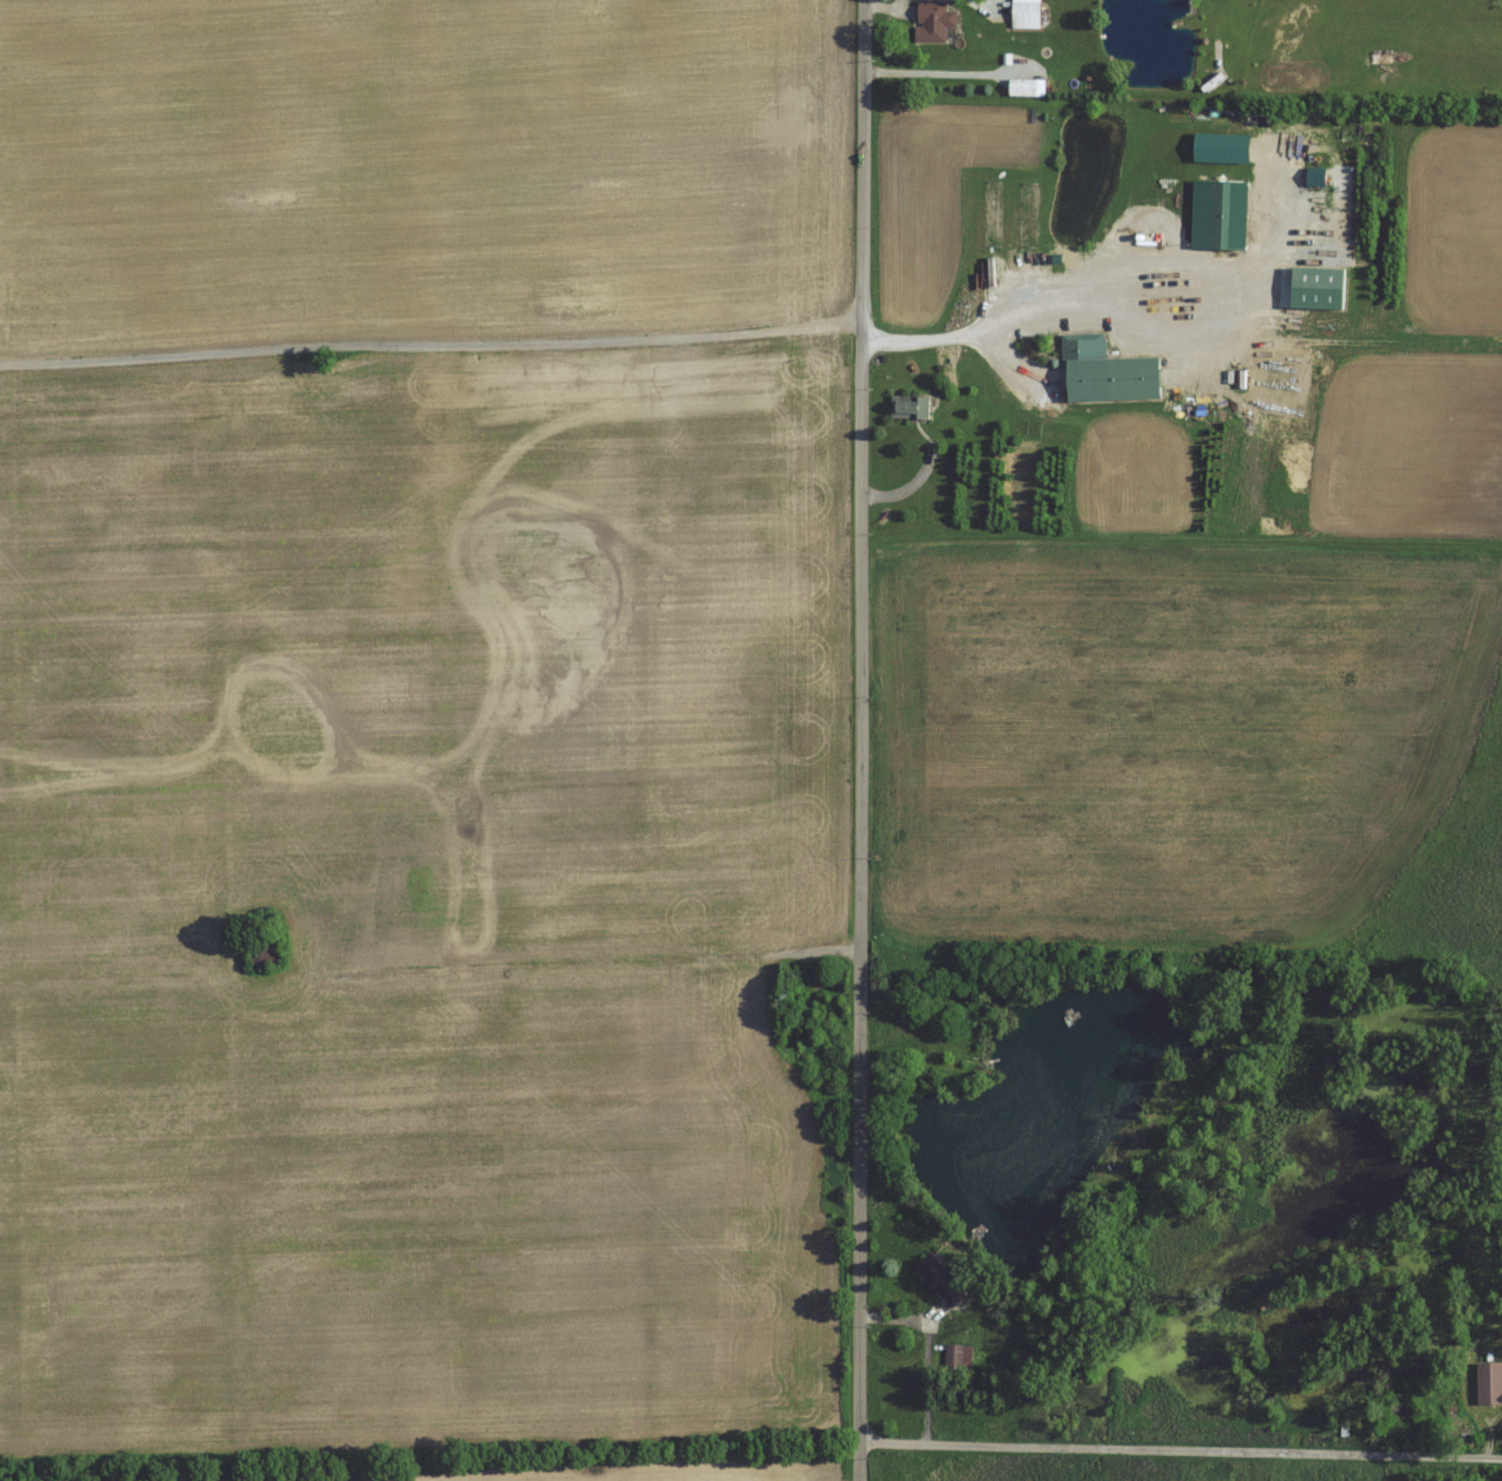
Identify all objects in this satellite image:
building: (1026, 13)
building: (934, 20)
road: (928, 72)
building: (1027, 87)
building: (991, 213)
building: (1027, 214)
building: (1220, 214)
road: (1066, 291)
building: (1109, 374)
building: (911, 405)
road: (861, 740)
building: (264, 952)
building: (941, 1280)
road: (925, 1352)
building: (957, 1355)
building: (1489, 1383)
building: (1344, 1428)
road: (1180, 1451)

